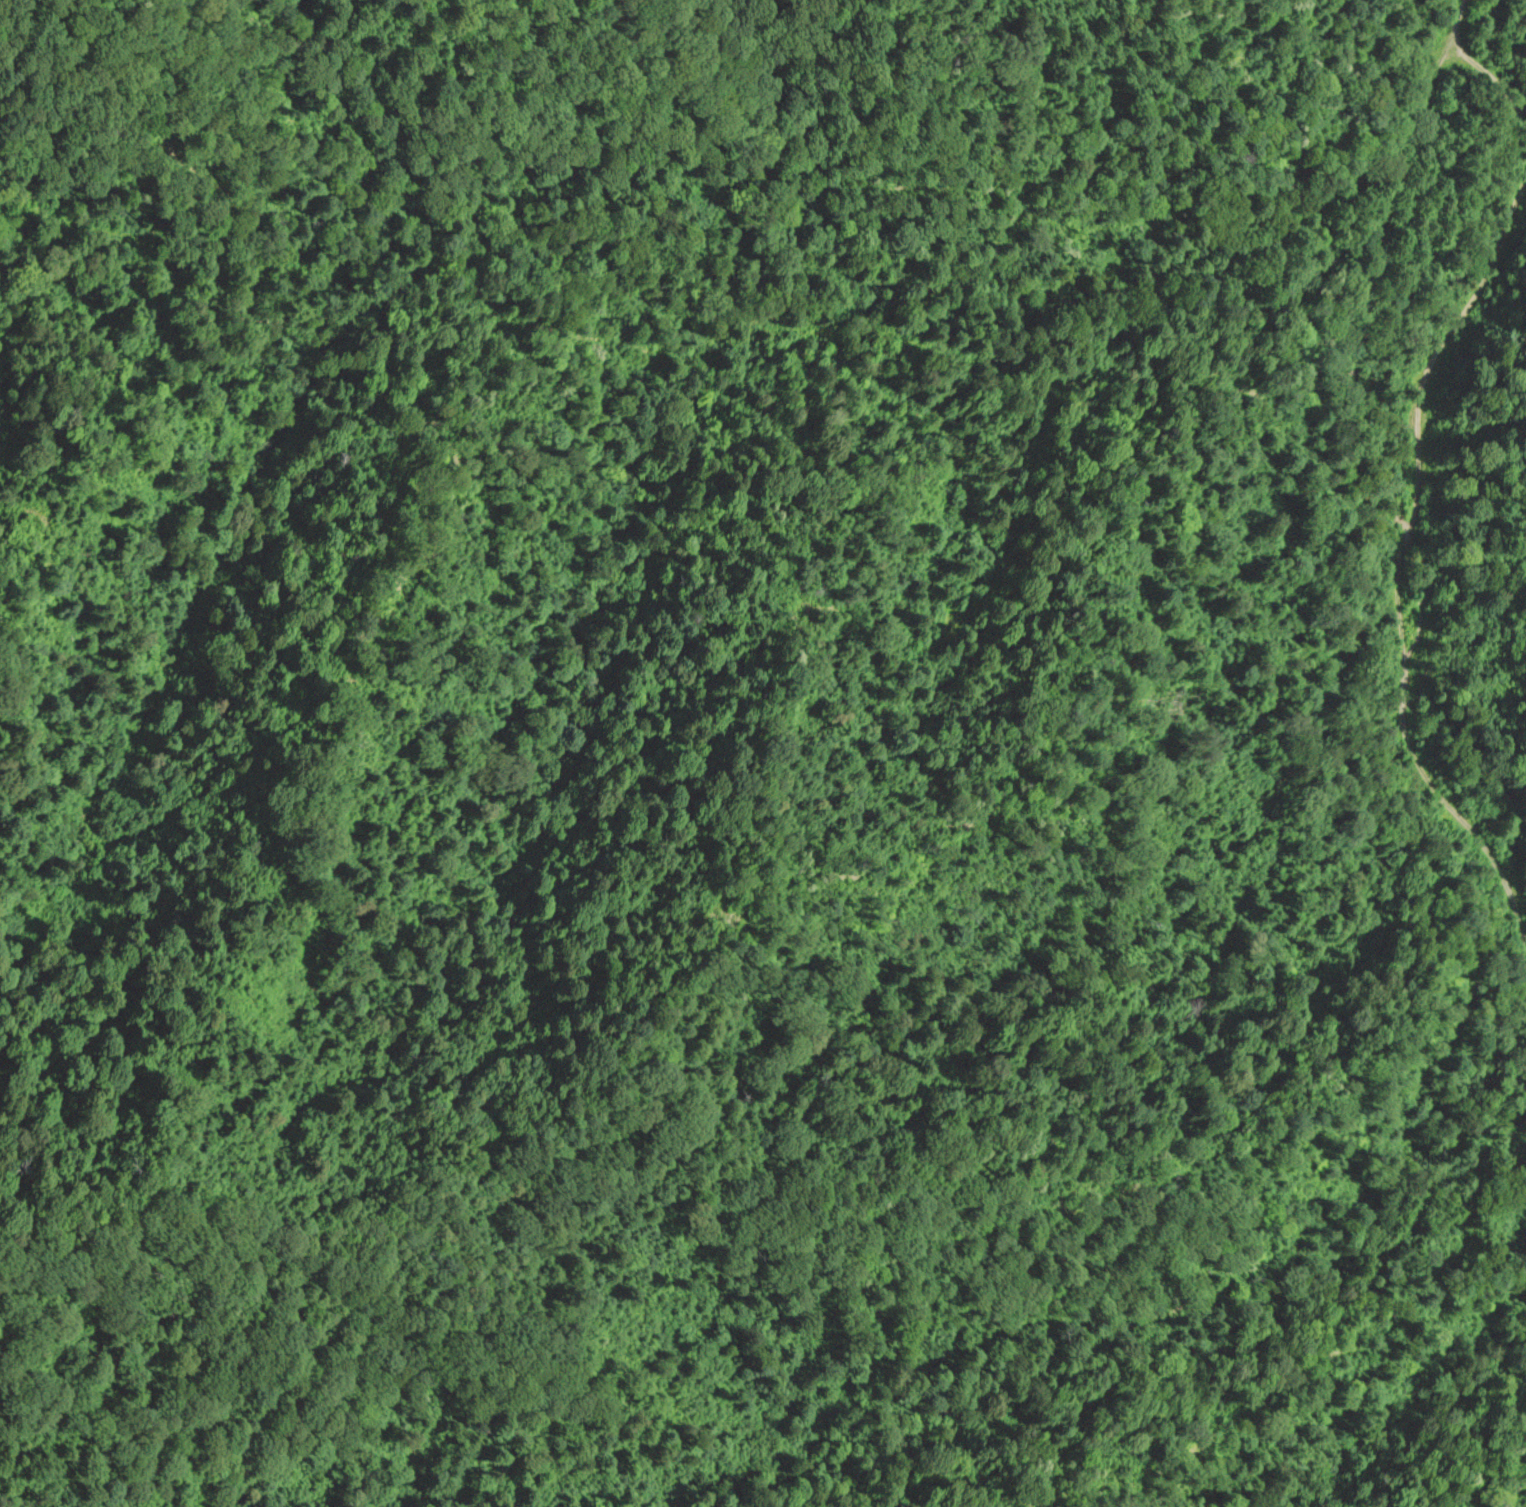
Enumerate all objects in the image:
building: (413, 1106)

